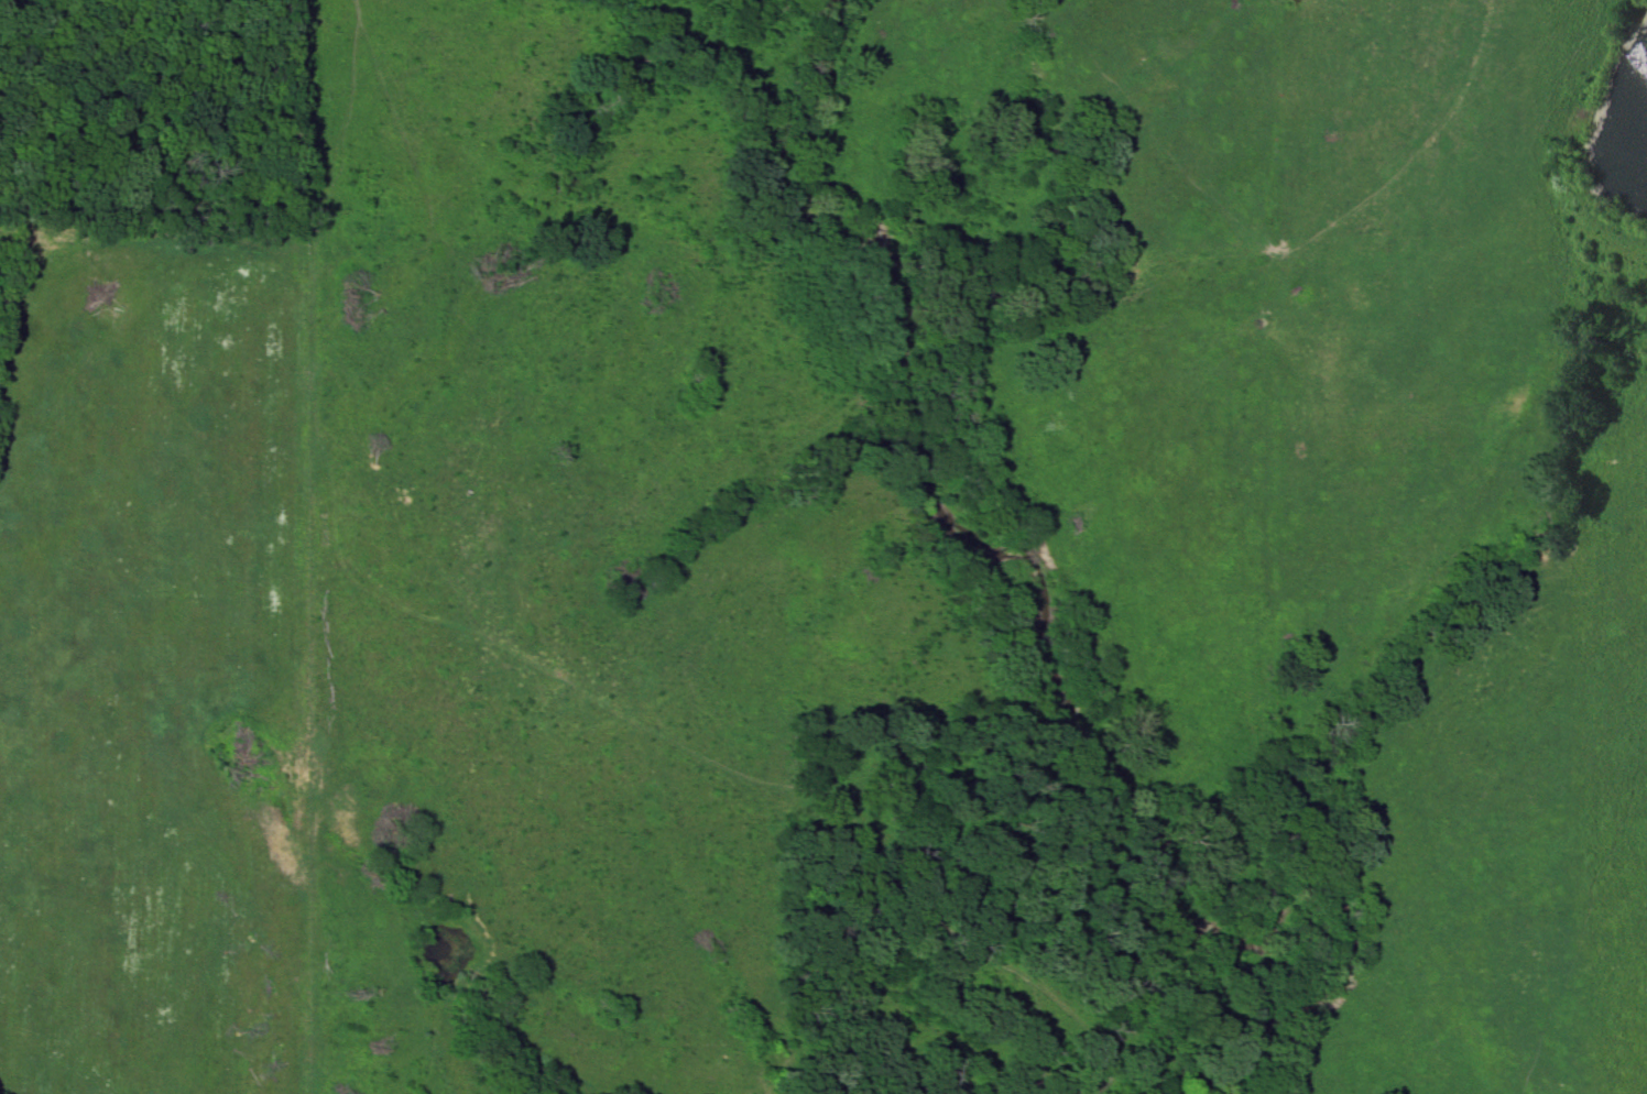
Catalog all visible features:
river: (1039, 657)

